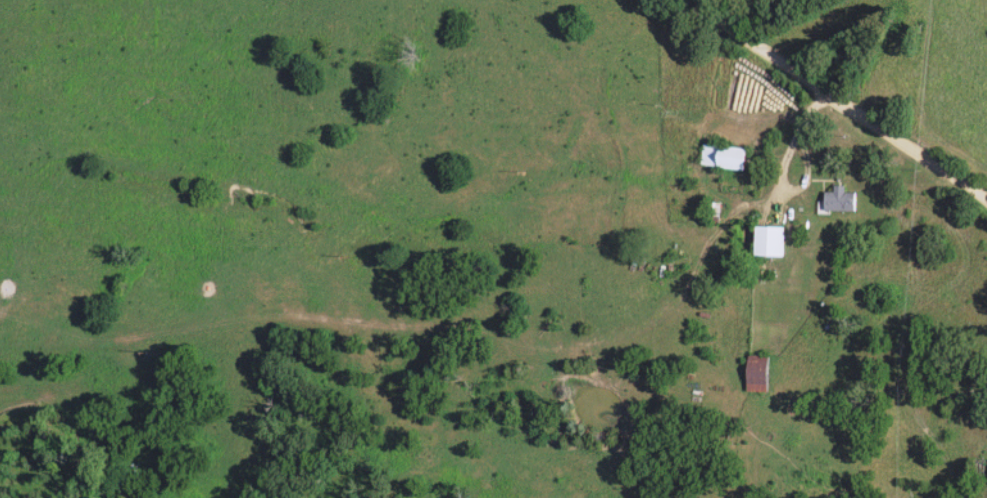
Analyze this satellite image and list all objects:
road: (833, 114)
building: (725, 158)
building: (840, 201)
building: (771, 242)
building: (758, 374)

